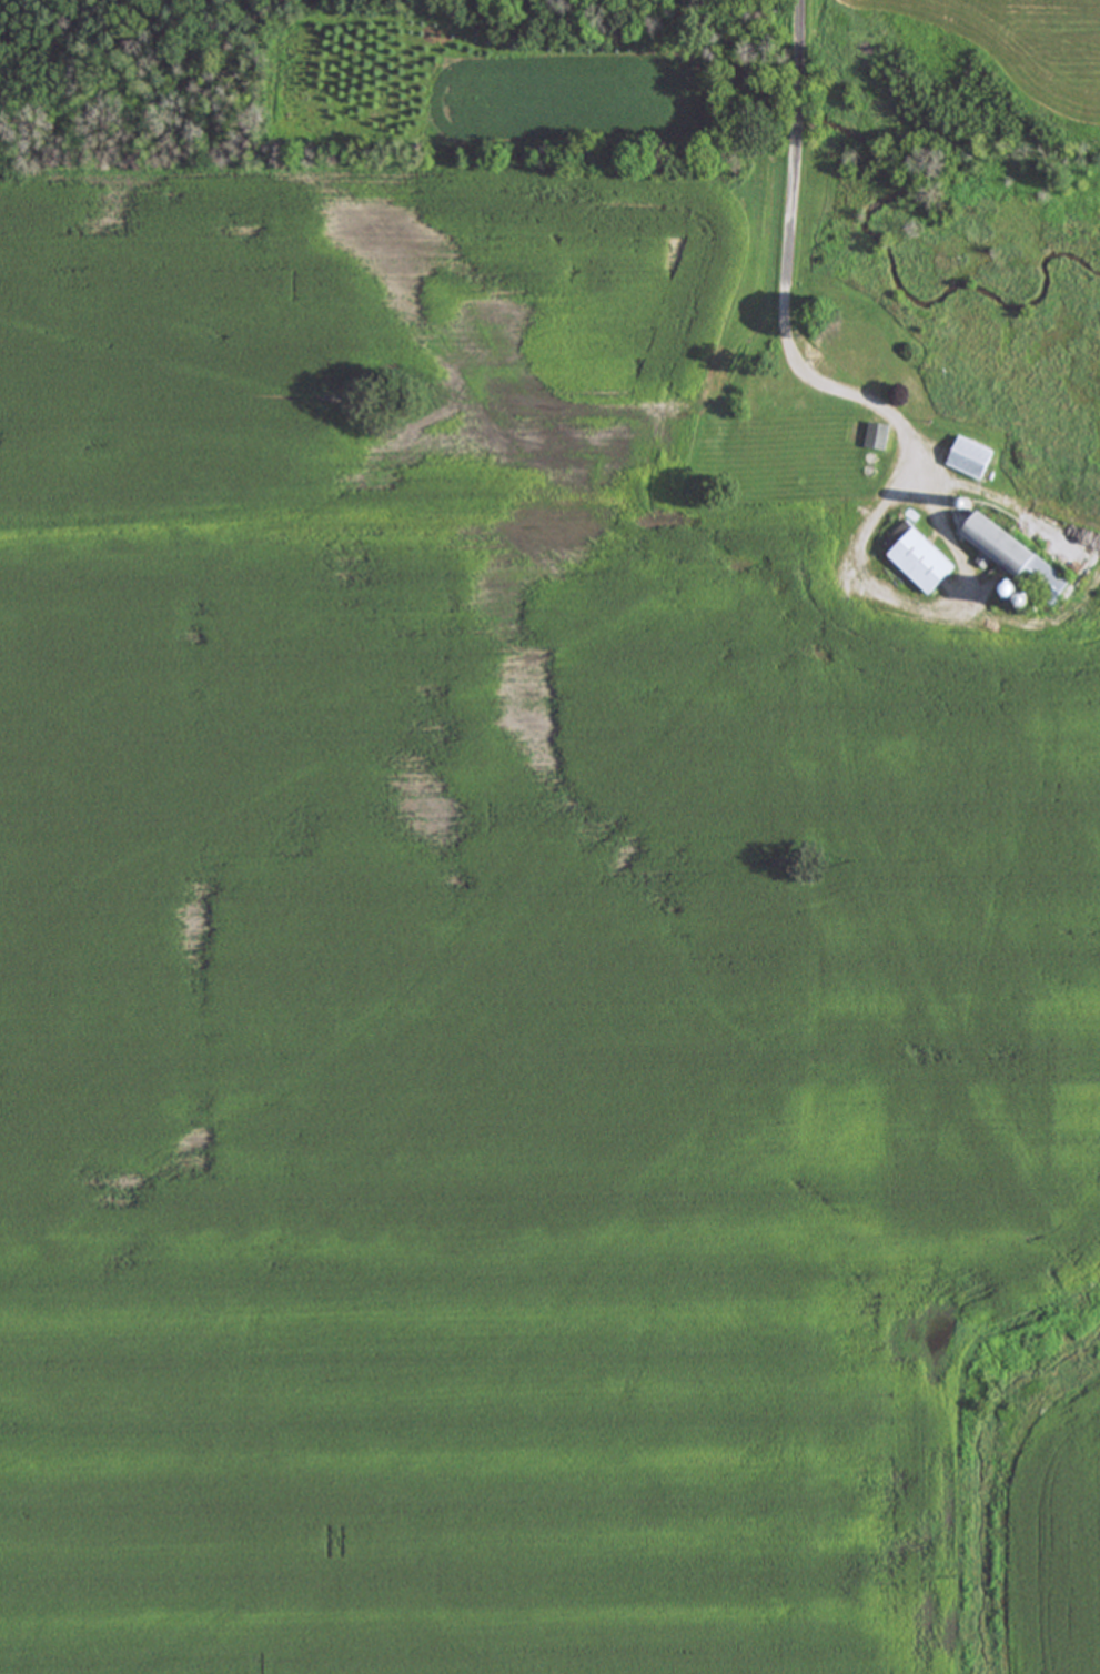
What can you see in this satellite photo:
road: (786, 215)
building: (864, 349)
building: (820, 352)
building: (882, 438)
building: (976, 461)
road: (919, 470)
road: (1013, 498)
building: (925, 559)
building: (1021, 562)
road: (970, 616)
road: (1051, 619)

